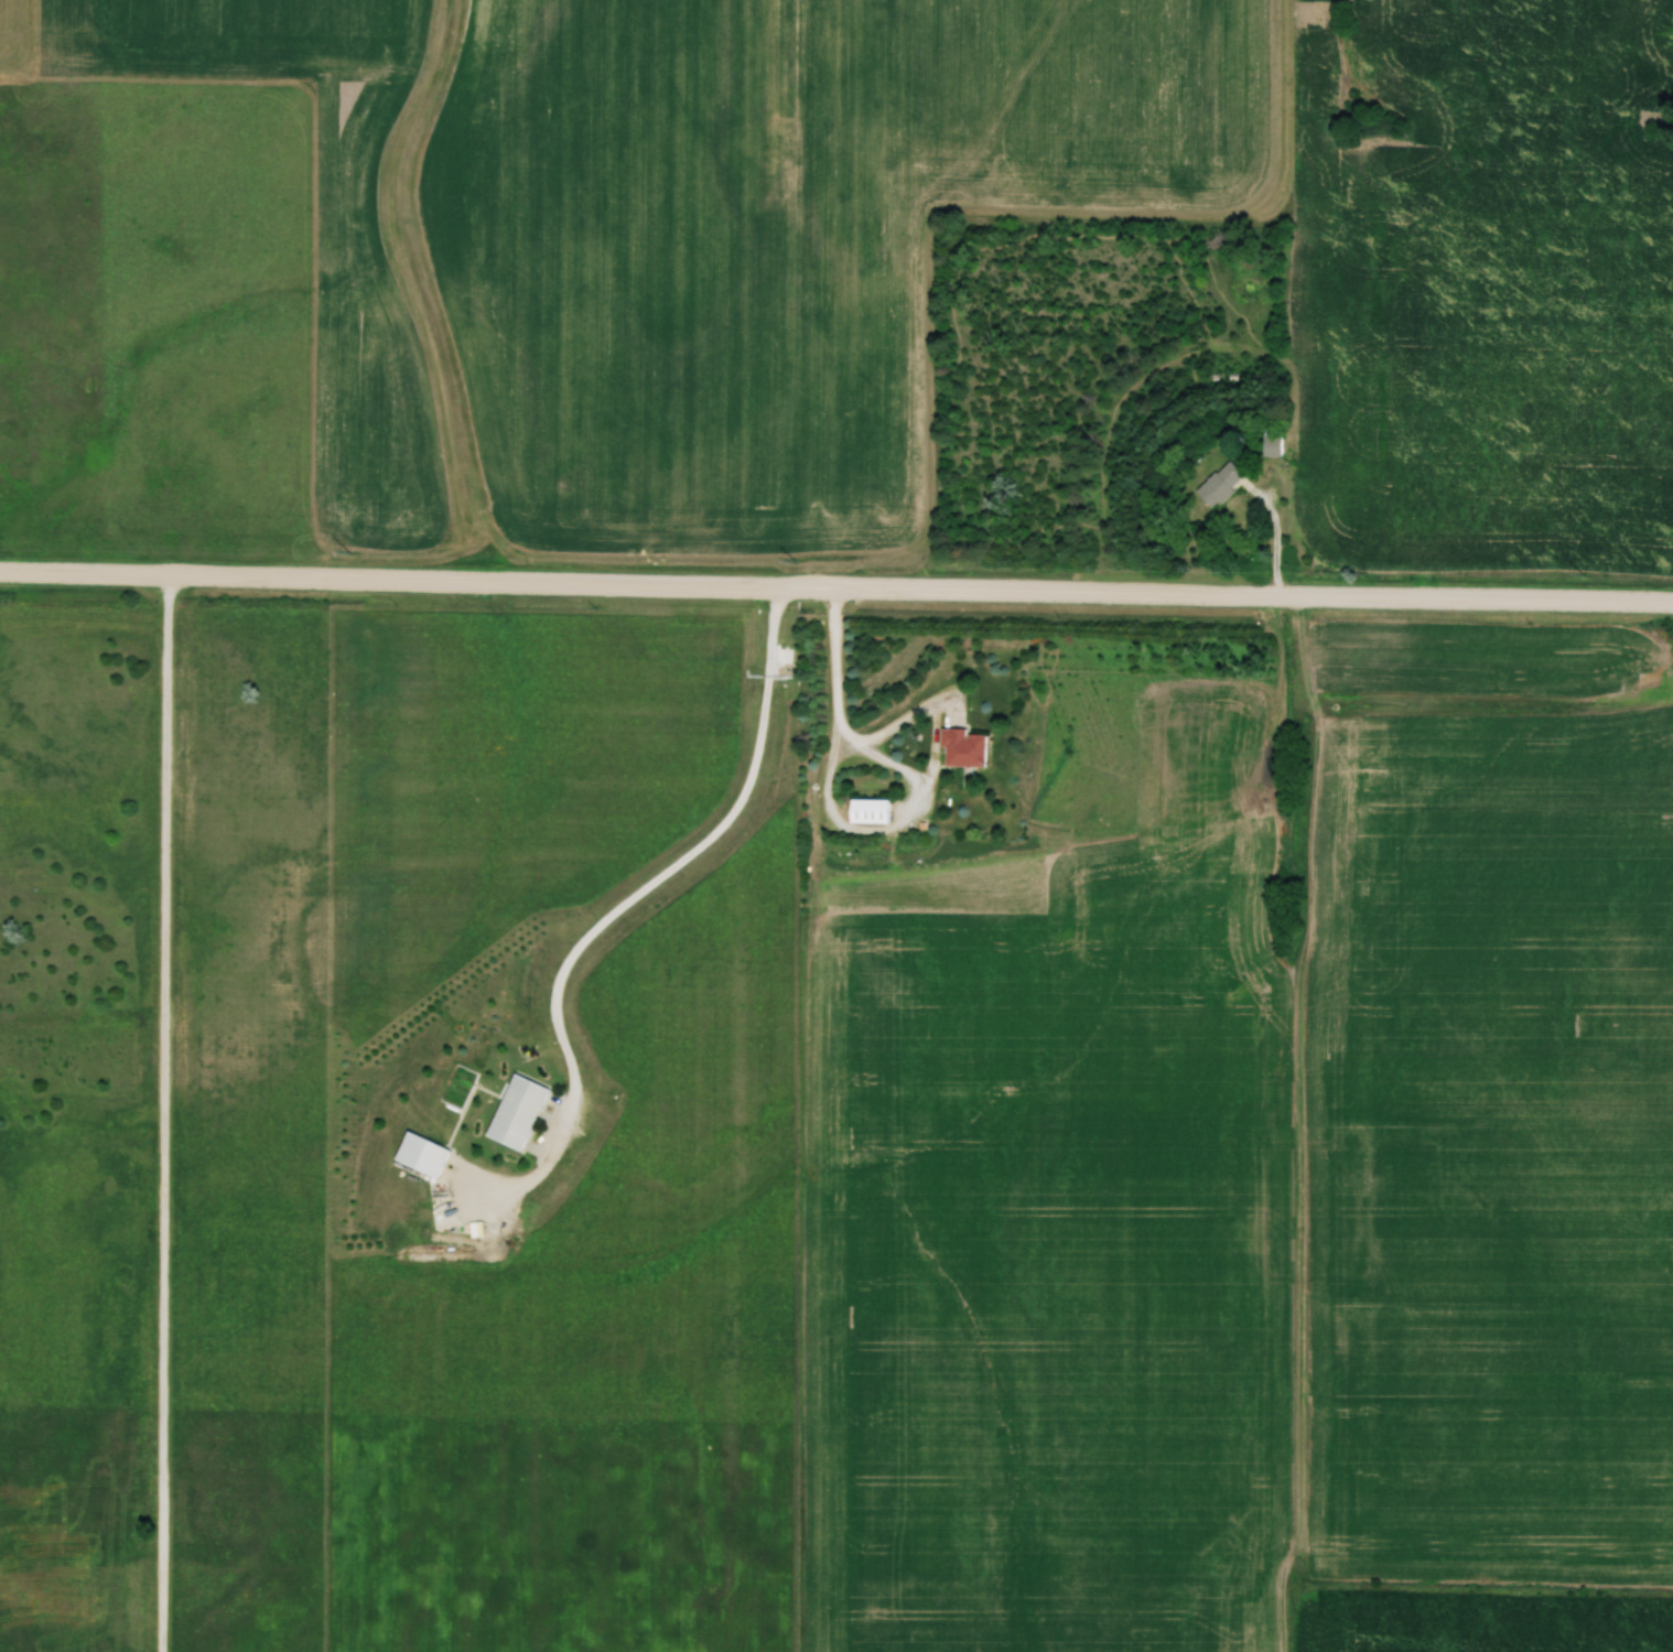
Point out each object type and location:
building: (1272, 441)
building: (1220, 484)
road: (835, 586)
building: (962, 749)
road: (887, 762)
building: (870, 813)
road: (623, 906)
road: (166, 1111)
building: (517, 1112)
building: (422, 1154)

